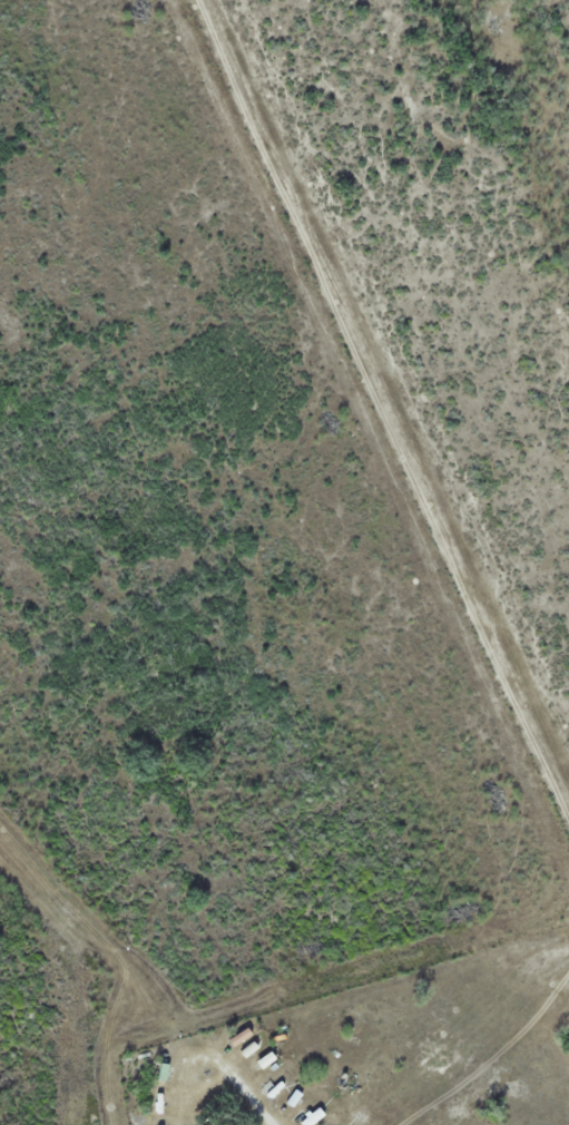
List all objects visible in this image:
road: (359, 336)
road: (534, 741)
building: (161, 1073)
building: (273, 1088)
building: (294, 1098)
building: (312, 1117)
building: (156, 1124)

